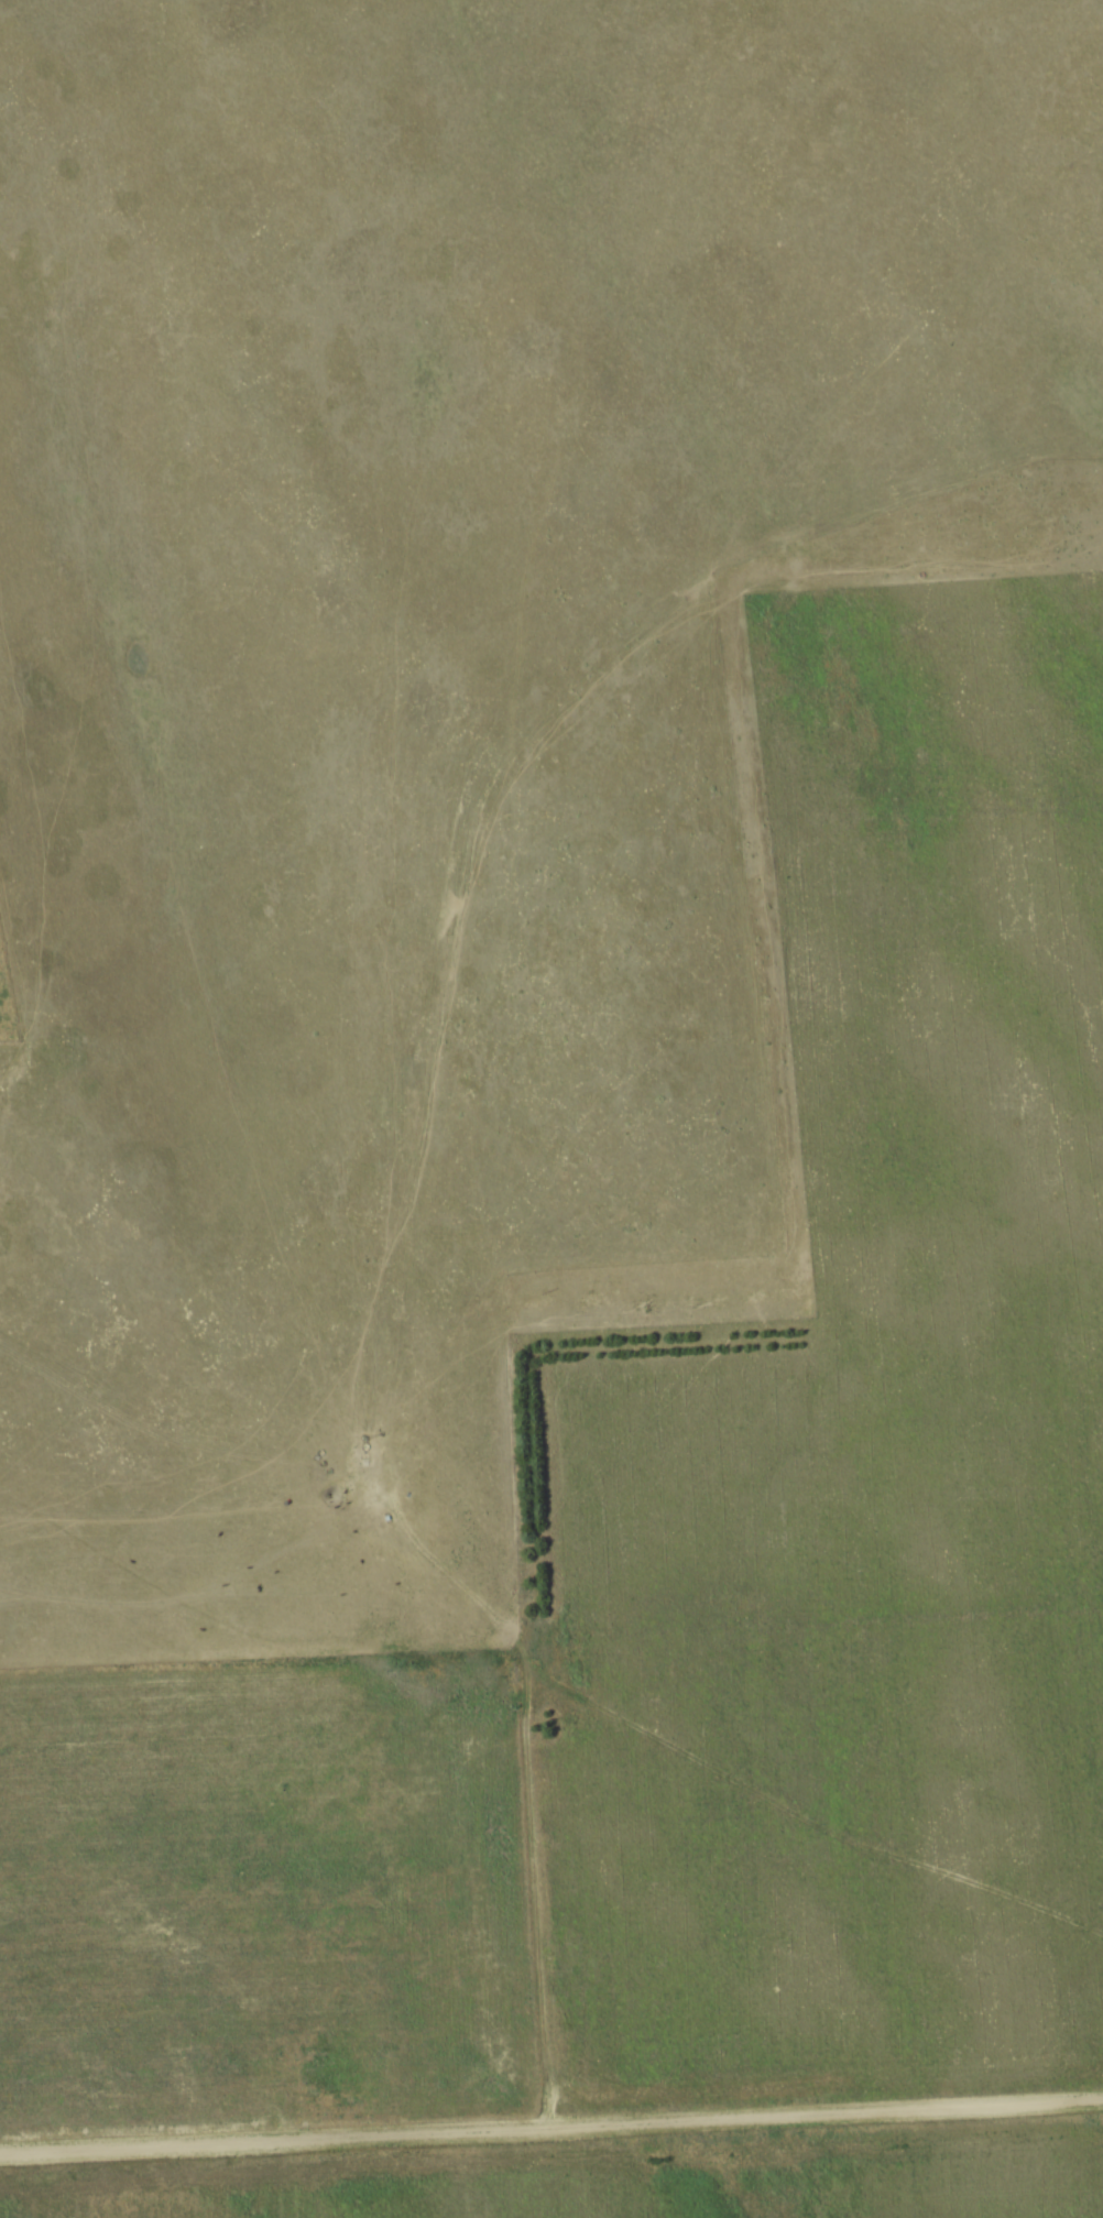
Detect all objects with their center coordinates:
road: (551, 2130)

